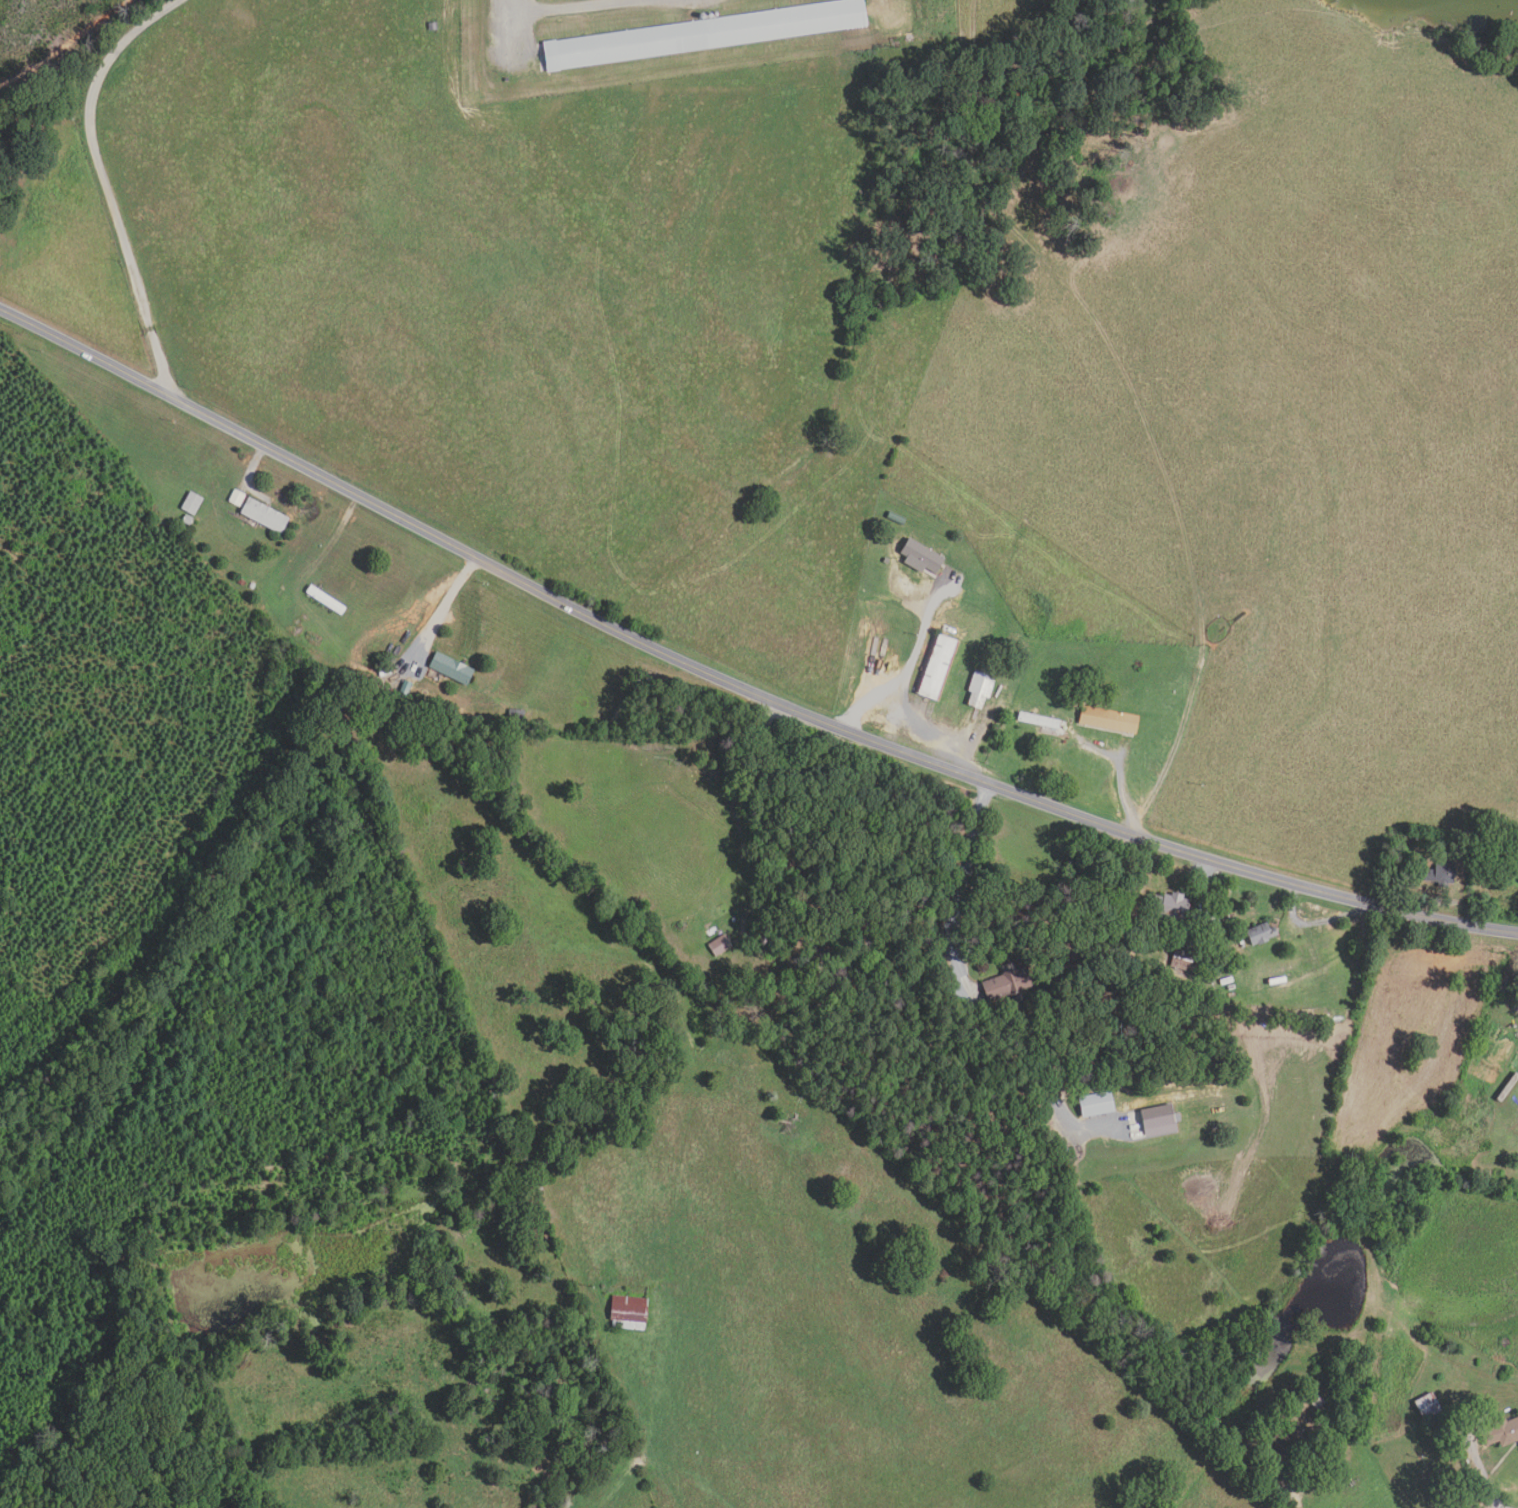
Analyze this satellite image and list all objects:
road: (511, 14)
building: (432, 26)
building: (705, 34)
road: (106, 183)
building: (236, 498)
building: (191, 503)
building: (263, 516)
building: (187, 520)
building: (920, 557)
building: (886, 561)
building: (241, 582)
building: (251, 586)
building: (325, 600)
road: (446, 605)
building: (395, 651)
road: (906, 665)
building: (450, 668)
building: (937, 668)
road: (733, 684)
building: (979, 689)
building: (403, 690)
building: (515, 717)
building: (1107, 719)
building: (1037, 720)
road: (802, 832)
building: (1441, 873)
road: (956, 890)
building: (1169, 908)
building: (733, 920)
building: (1260, 934)
building: (821, 941)
building: (719, 945)
building: (1212, 953)
building: (1182, 958)
building: (1159, 974)
building: (852, 985)
building: (1006, 985)
building: (827, 992)
building: (1294, 1084)
building: (1095, 1105)
building: (1157, 1121)
river: (1346, 1264)
river: (296, 1269)
building: (628, 1312)
building: (1316, 1400)
building: (1426, 1405)
building: (1501, 1431)
building: (1288, 1442)
building: (1244, 1447)
road: (1294, 1493)
building: (1476, 1497)

